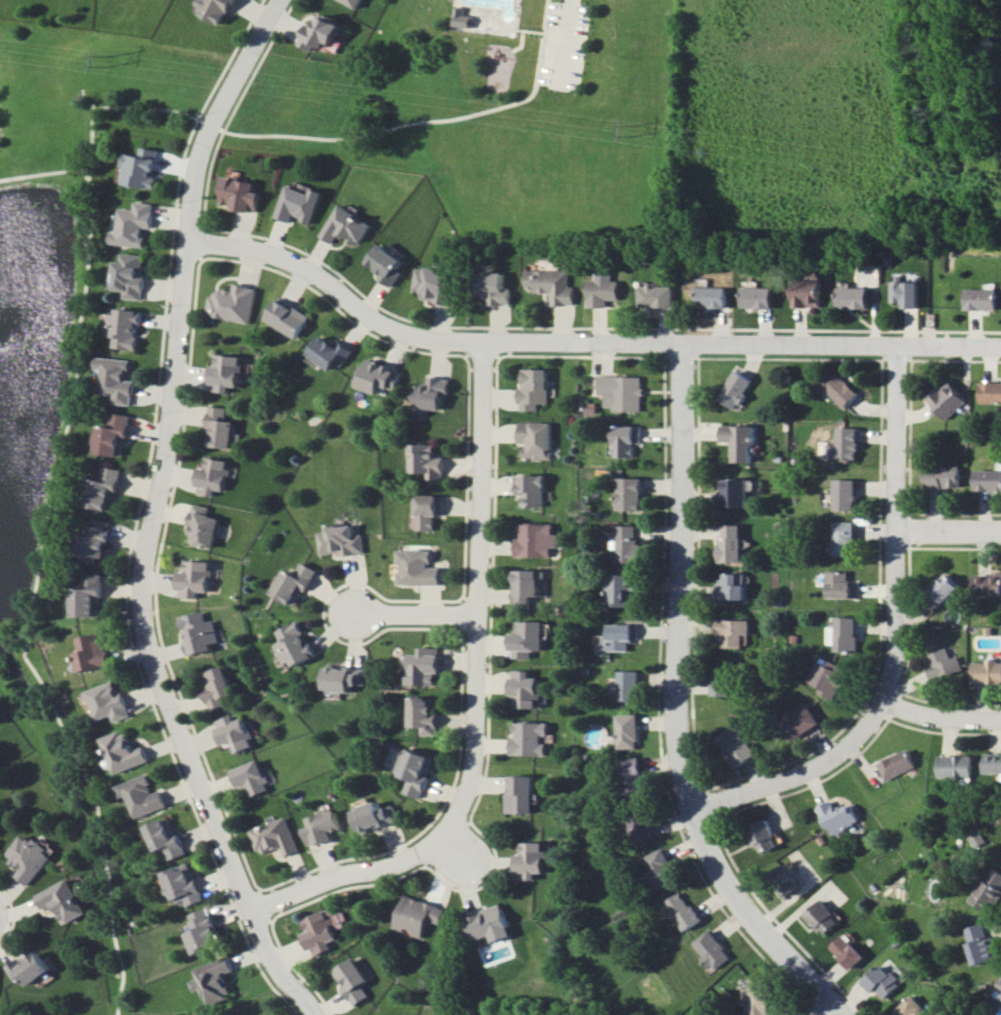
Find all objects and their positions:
building: (351, 2)
building: (215, 9)
building: (463, 18)
building: (320, 32)
road: (564, 41)
parking lot: (566, 44)
power tower: (107, 61)
park: (487, 106)
power tower: (633, 132)
building: (144, 168)
road: (45, 174)
building: (241, 194)
building: (299, 204)
building: (136, 224)
building: (347, 226)
building: (387, 264)
building: (132, 275)
building: (437, 284)
building: (553, 285)
building: (495, 289)
building: (604, 290)
building: (807, 293)
building: (904, 293)
building: (657, 296)
building: (713, 296)
building: (758, 297)
building: (852, 298)
building: (981, 299)
road: (82, 301)
building: (235, 303)
building: (288, 315)
road: (379, 321)
road: (542, 326)
building: (127, 328)
road: (793, 341)
building: (330, 352)
building: (225, 373)
building: (377, 377)
building: (117, 379)
building: (533, 389)
building: (737, 389)
building: (840, 389)
building: (621, 392)
building: (990, 392)
building: (431, 394)
building: (948, 400)
building: (219, 428)
building: (115, 435)
building: (534, 440)
building: (626, 440)
building: (739, 441)
building: (847, 443)
building: (428, 460)
building: (211, 476)
building: (944, 477)
building: (988, 480)
building: (106, 488)
building: (531, 489)
building: (734, 492)
building: (630, 493)
building: (845, 494)
building: (428, 510)
road: (152, 518)
building: (202, 526)
road: (946, 528)
building: (845, 538)
building: (97, 539)
building: (536, 539)
building: (343, 540)
building: (628, 543)
building: (731, 543)
building: (419, 568)
building: (193, 578)
building: (296, 582)
building: (987, 583)
building: (528, 585)
building: (841, 585)
building: (734, 586)
building: (621, 588)
building: (942, 589)
road: (480, 595)
building: (89, 596)
road: (418, 613)
road: (890, 628)
building: (734, 631)
building: (197, 632)
building: (843, 634)
building: (622, 636)
building: (530, 638)
building: (294, 645)
building: (92, 652)
building: (941, 664)
building: (426, 666)
building: (986, 671)
building: (828, 676)
building: (345, 677)
building: (631, 685)
building: (723, 686)
building: (215, 687)
building: (528, 689)
building: (108, 701)
road: (678, 706)
road: (938, 713)
building: (426, 715)
building: (799, 722)
building: (630, 731)
building: (233, 733)
building: (532, 738)
building: (738, 745)
building: (124, 752)
building: (993, 763)
building: (896, 764)
building: (955, 766)
building: (420, 771)
building: (635, 775)
building: (253, 777)
building: (524, 794)
building: (143, 795)
building: (377, 816)
building: (837, 817)
building: (323, 827)
building: (644, 827)
building: (763, 836)
building: (167, 837)
building: (276, 837)
building: (979, 839)
road: (465, 857)
building: (28, 858)
building: (534, 860)
building: (664, 868)
road: (351, 873)
building: (787, 878)
building: (185, 884)
building: (990, 890)
building: (62, 901)
building: (685, 911)
building: (421, 915)
building: (821, 917)
building: (493, 924)
building: (322, 930)
building: (205, 931)
building: (981, 942)
building: (715, 949)
building: (848, 951)
building: (28, 968)
building: (214, 980)
building: (353, 980)
building: (882, 982)
building: (998, 990)
building: (760, 996)
road: (822, 1006)
building: (913, 1008)

